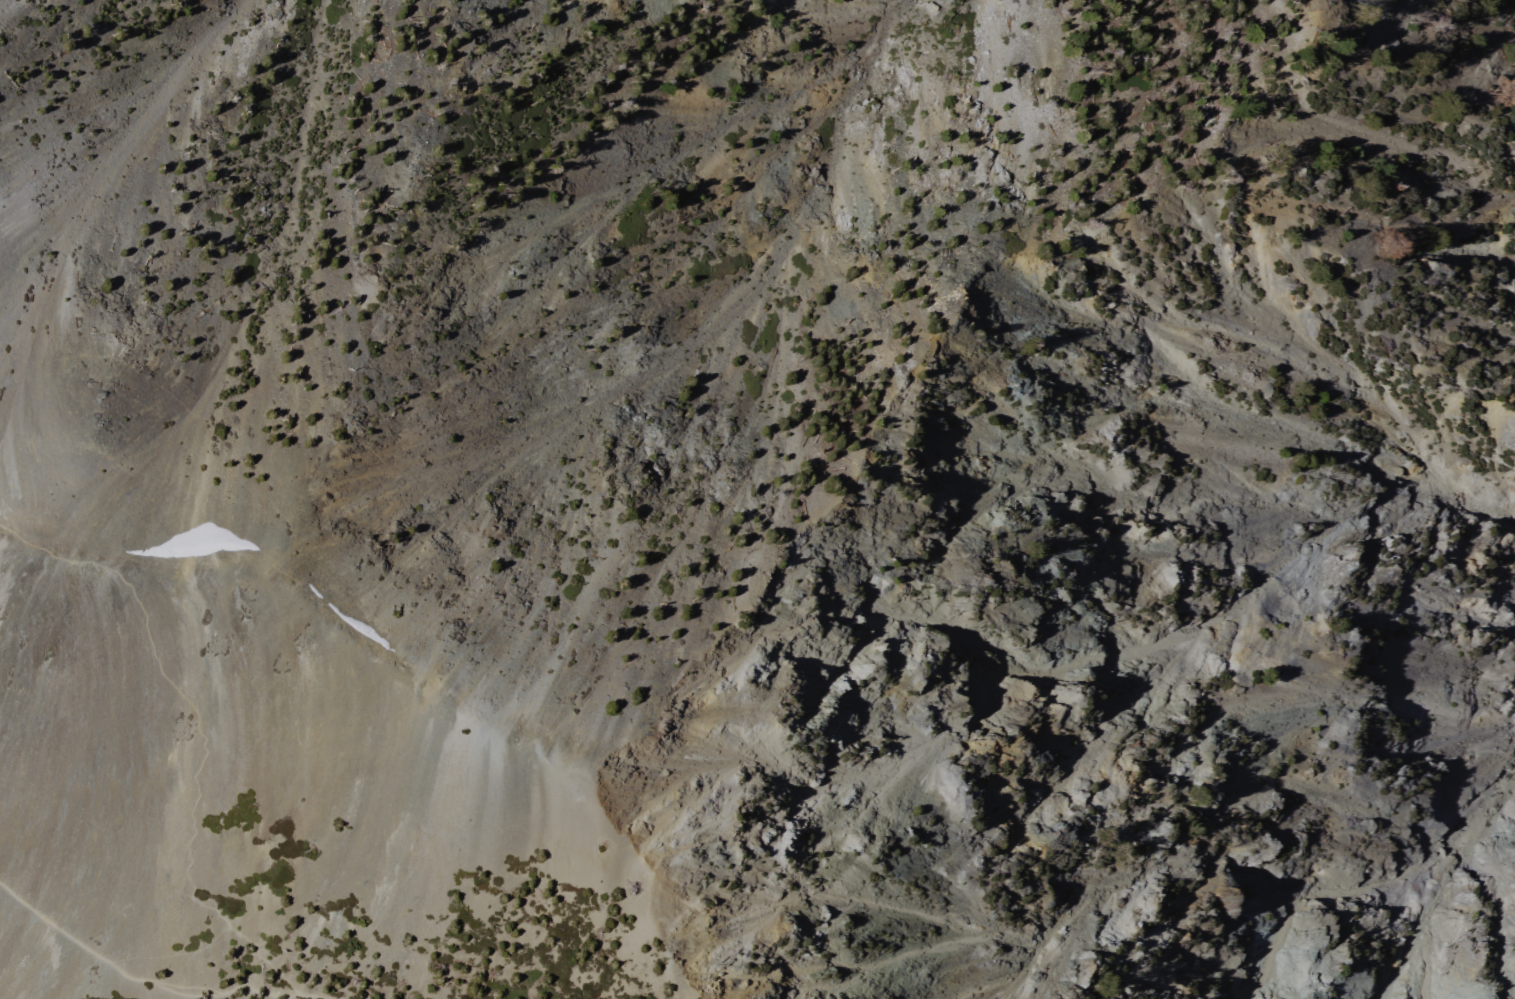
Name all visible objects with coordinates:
road: (461, 720)
road: (200, 727)
road: (149, 980)
road: (294, 997)

